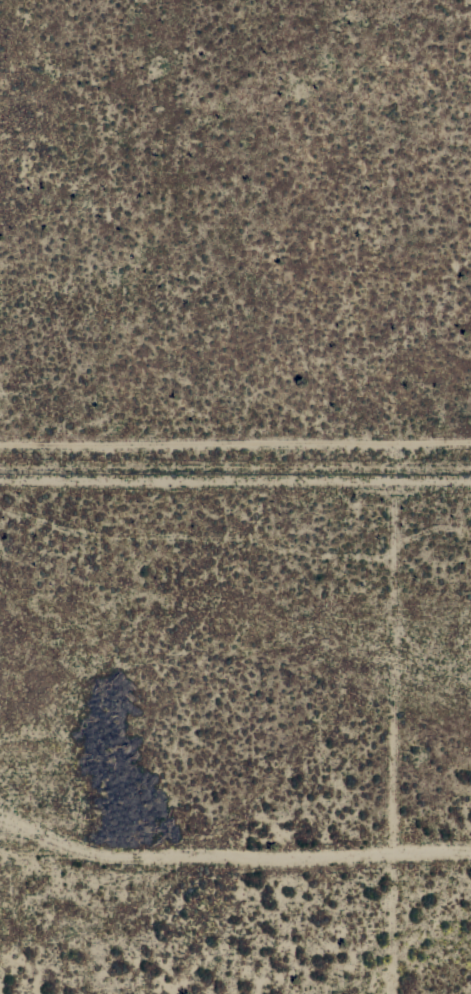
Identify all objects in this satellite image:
road: (235, 446)

